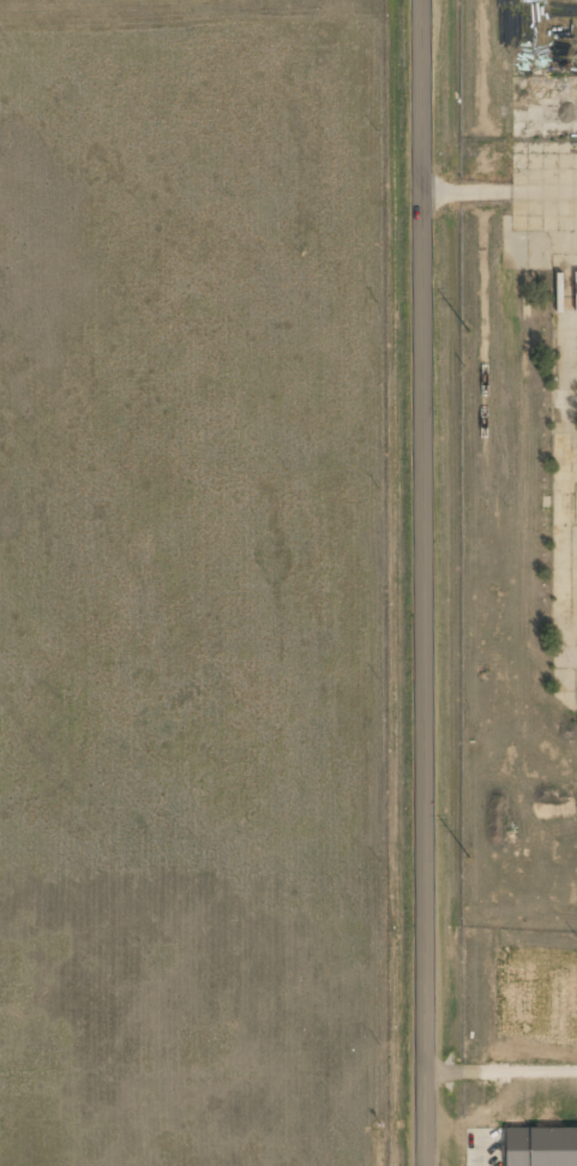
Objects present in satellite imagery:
building: (535, 175)
power tower: (468, 333)
road: (420, 582)
power tower: (471, 857)
building: (541, 1147)

